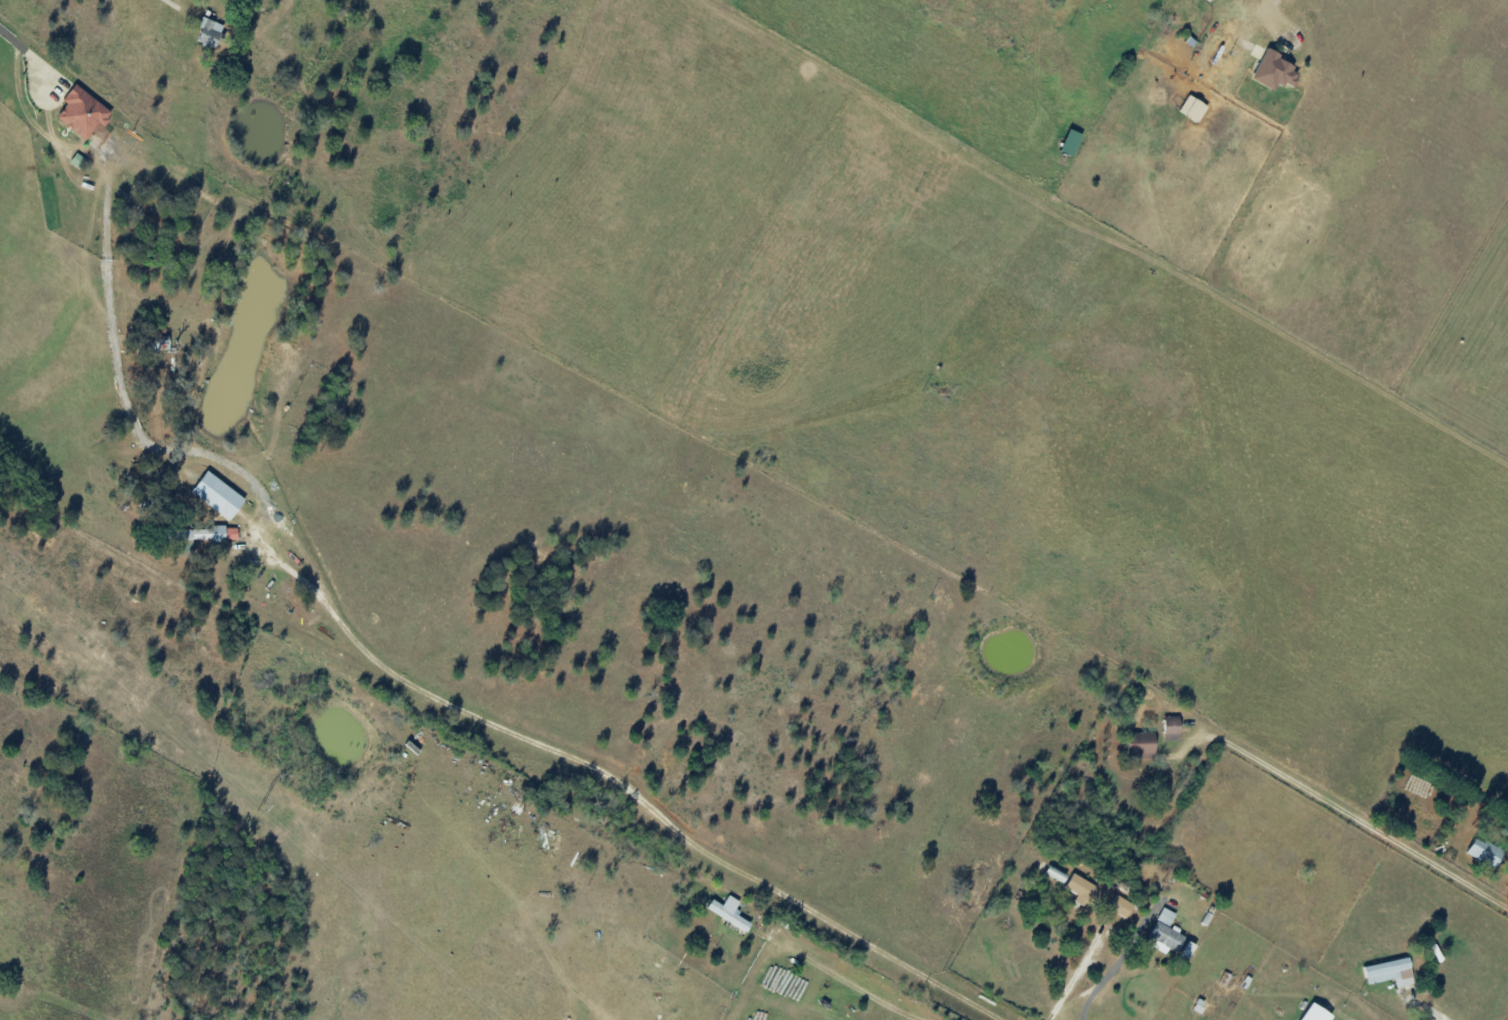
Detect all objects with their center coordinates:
road: (164, 12)
road: (1273, 13)
building: (210, 32)
road: (25, 60)
building: (1274, 70)
building: (1193, 108)
building: (83, 113)
building: (1071, 142)
building: (218, 495)
road: (256, 521)
building: (211, 533)
building: (1172, 725)
building: (1142, 743)
power tower: (262, 808)
road: (655, 812)
road: (1351, 813)
building: (1485, 852)
building: (1087, 890)
building: (1121, 906)
building: (730, 912)
building: (1166, 932)
building: (1187, 950)
road: (819, 952)
road: (1080, 968)
building: (1390, 972)
road: (1108, 974)
road: (1088, 1001)
road: (1428, 1007)
building: (1316, 1013)

